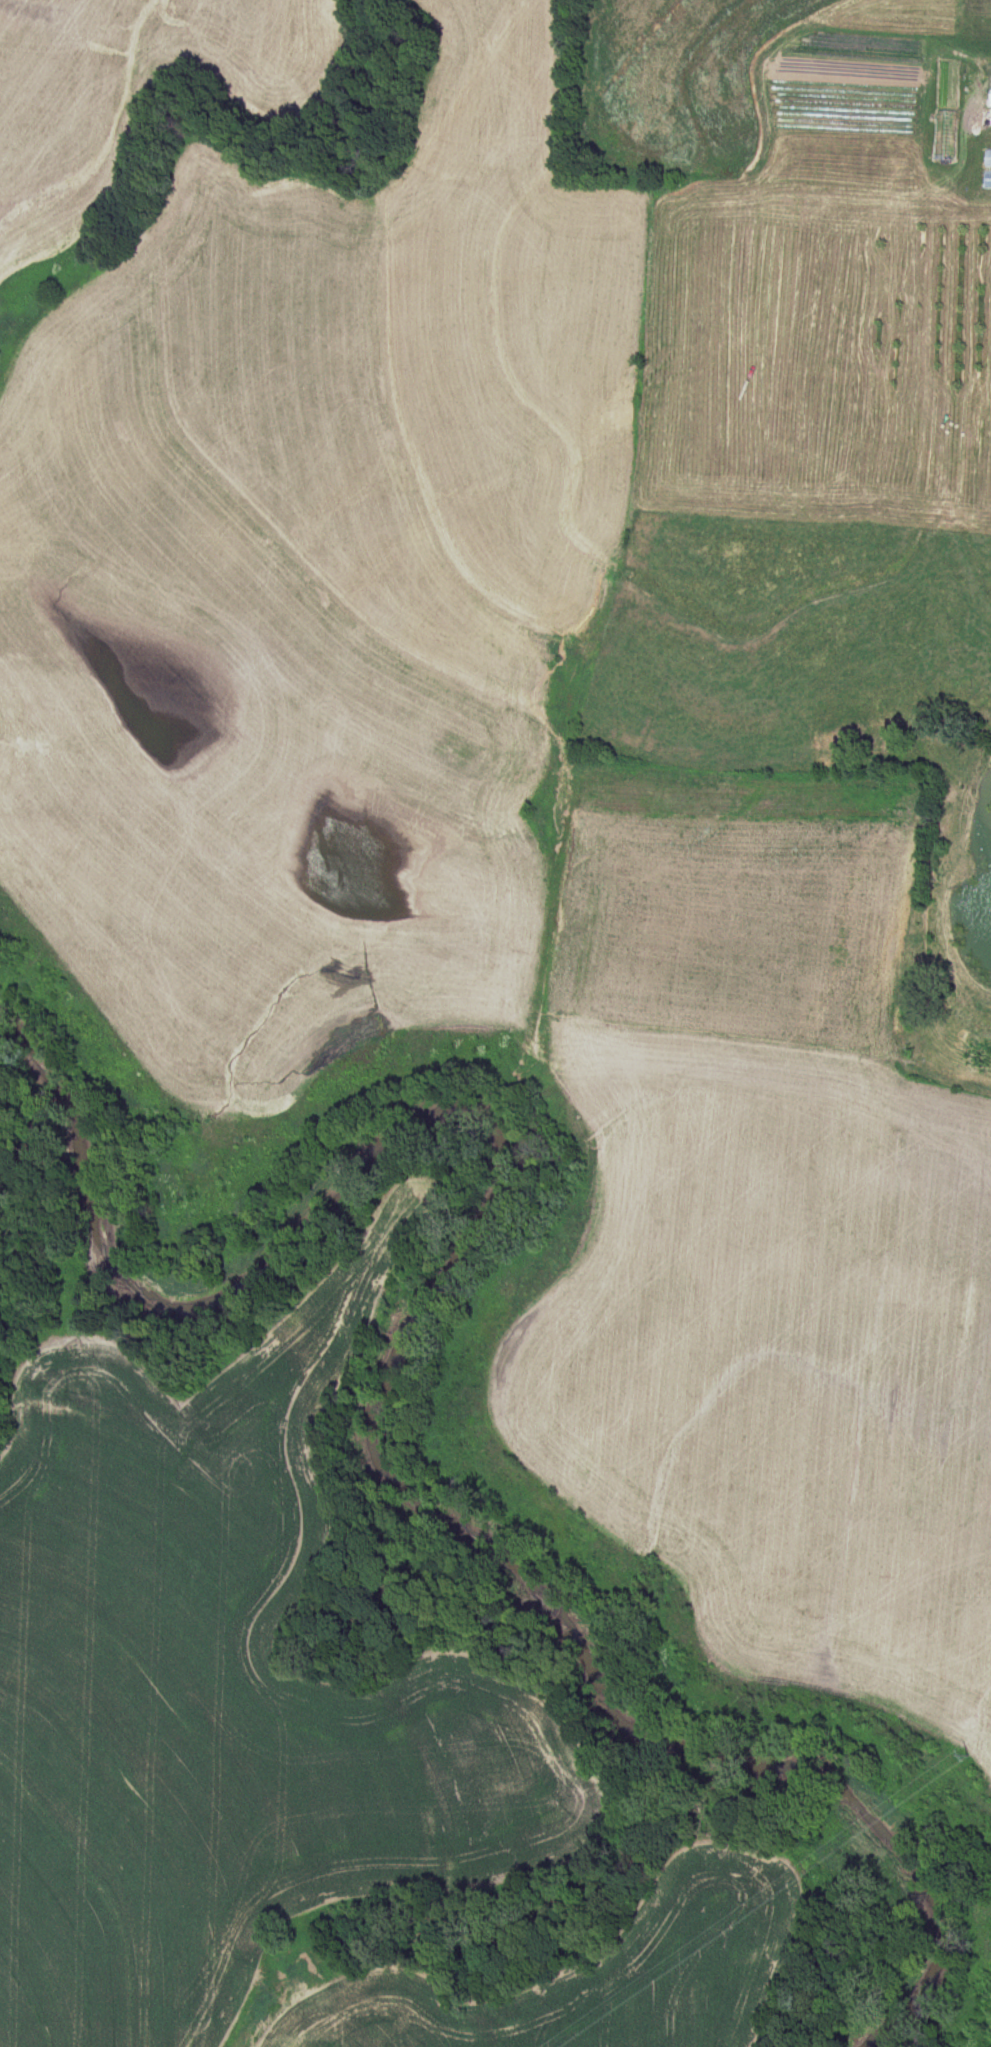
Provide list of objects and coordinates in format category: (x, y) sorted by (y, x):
building: (916, 117)
building: (986, 158)
building: (986, 179)
river: (389, 1356)

